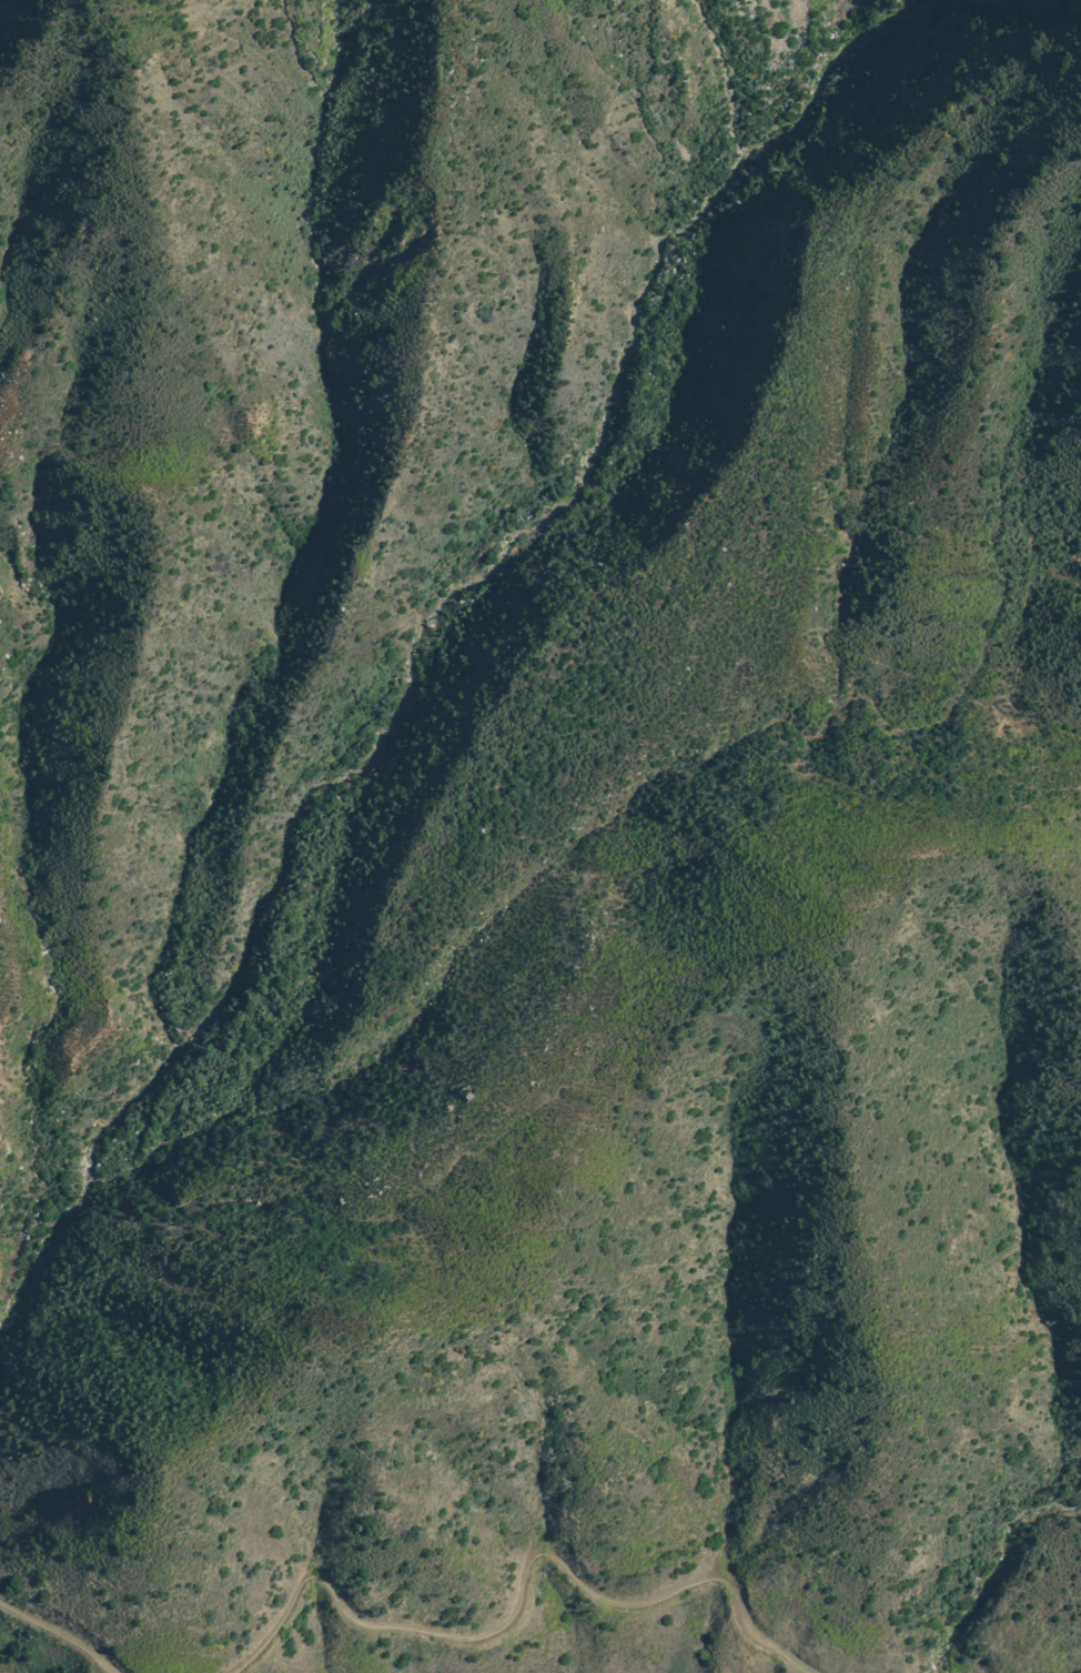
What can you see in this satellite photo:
road: (518, 1575)
road: (63, 1630)

